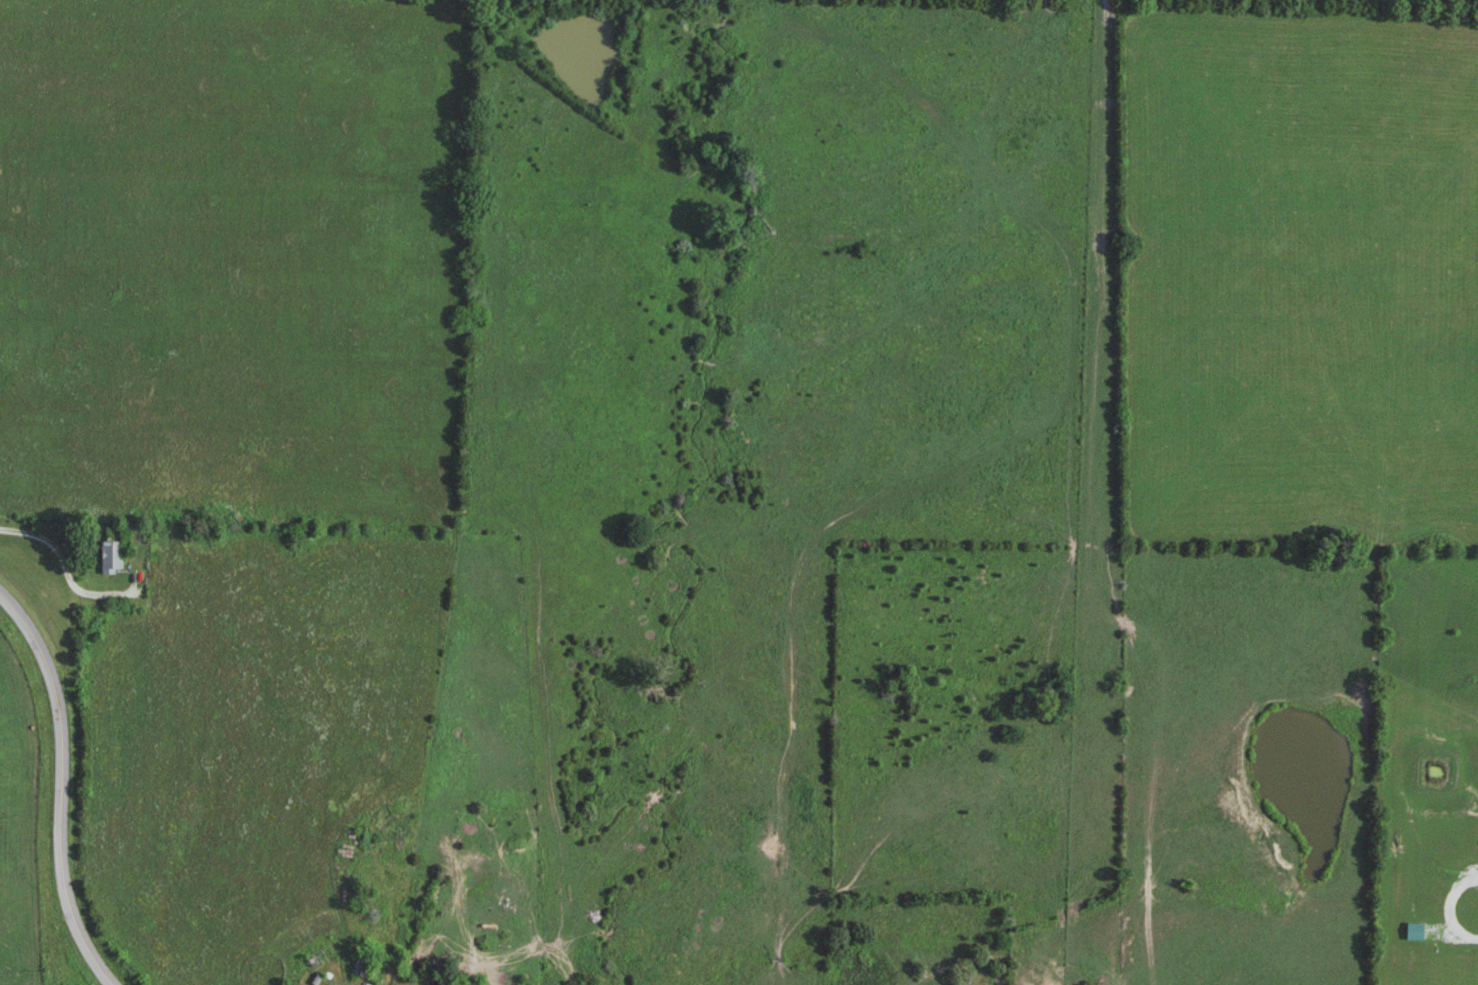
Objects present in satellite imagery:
building: (111, 557)
road: (72, 587)
road: (63, 787)
road: (1446, 908)

